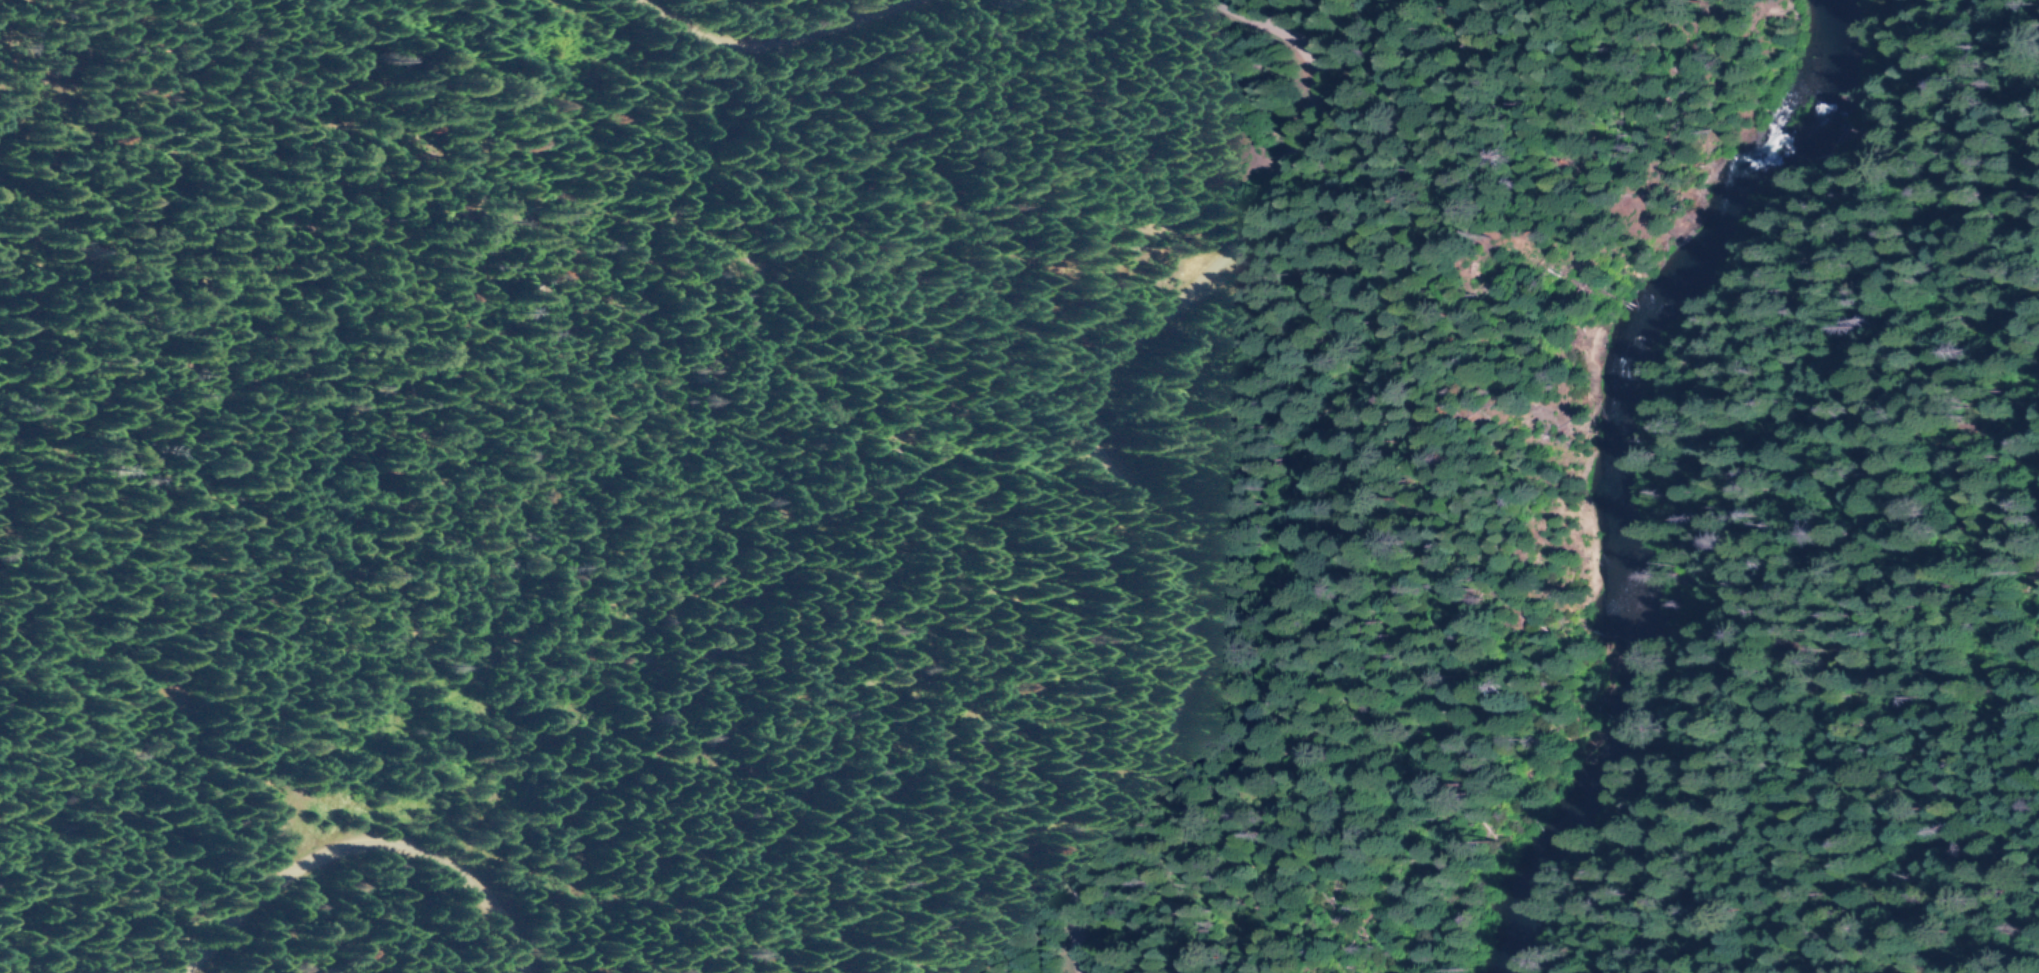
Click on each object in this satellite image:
road: (770, 38)
road: (1078, 435)
road: (1768, 459)
river: (1627, 460)
road: (354, 844)

